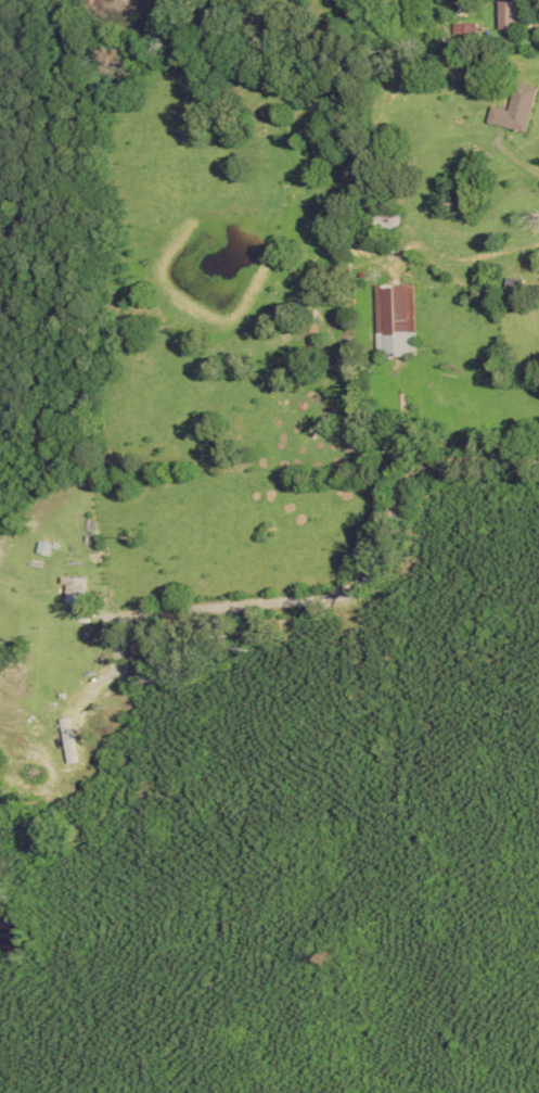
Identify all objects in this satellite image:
building: (512, 15)
building: (516, 109)
road: (538, 189)
building: (386, 218)
building: (396, 319)
road: (350, 581)
building: (77, 588)
building: (76, 696)

